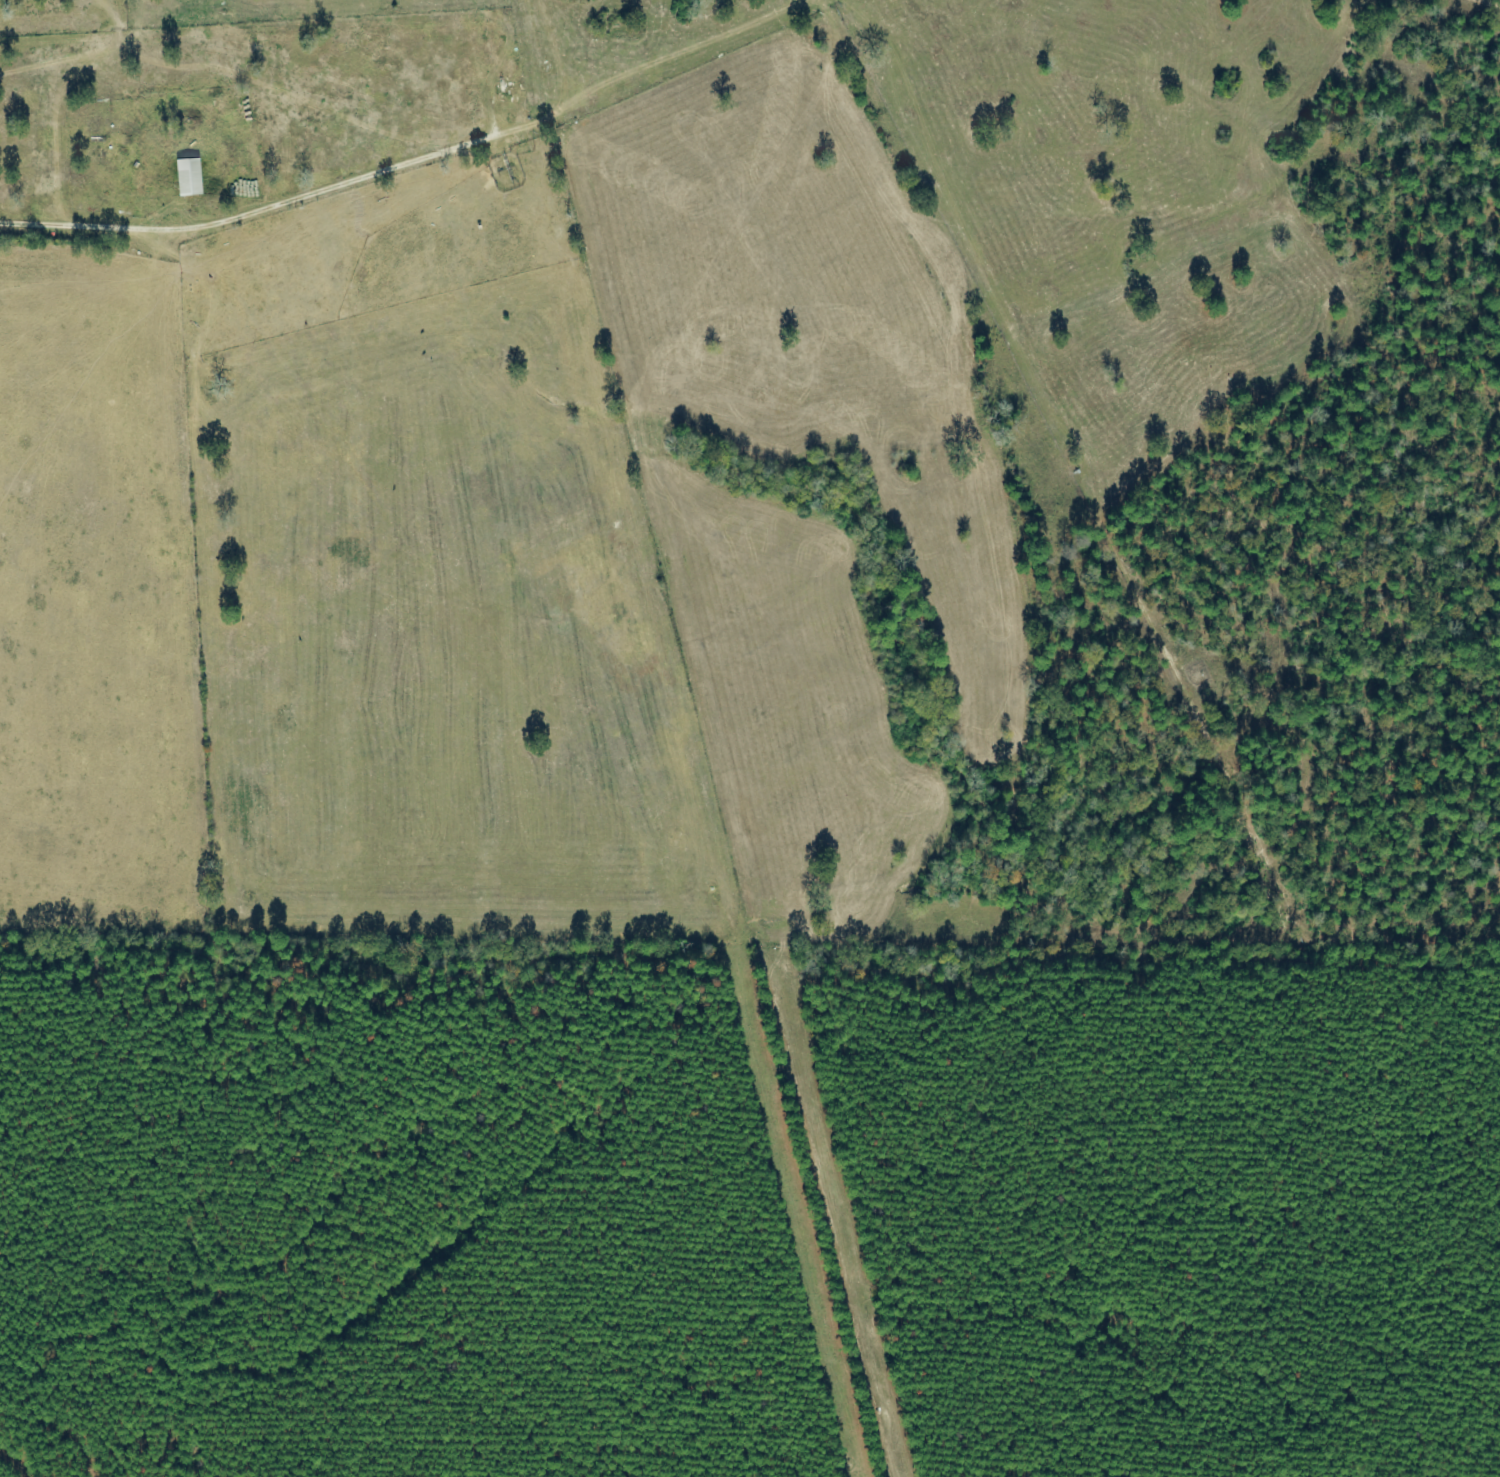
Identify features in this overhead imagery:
building: (189, 178)

